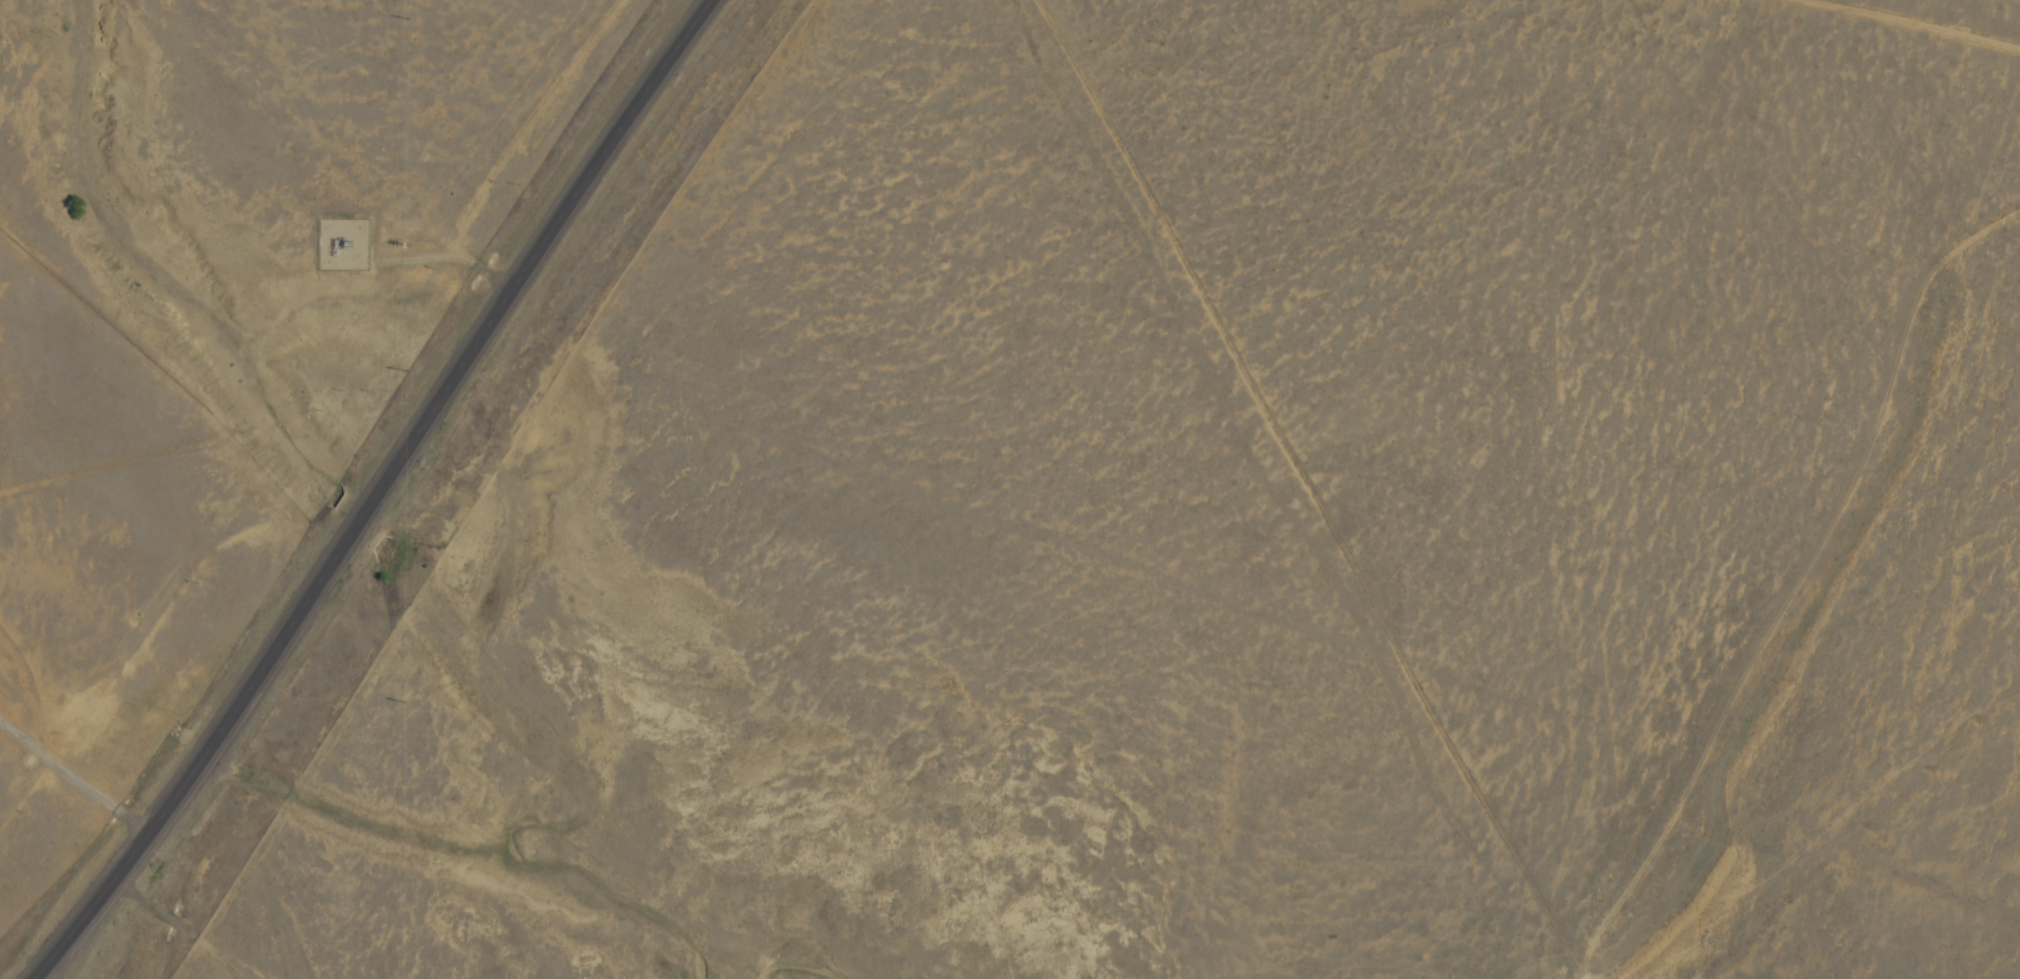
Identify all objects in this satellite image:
road: (1913, 24)
road: (378, 493)
road: (11, 742)
road: (65, 774)
road: (170, 921)

